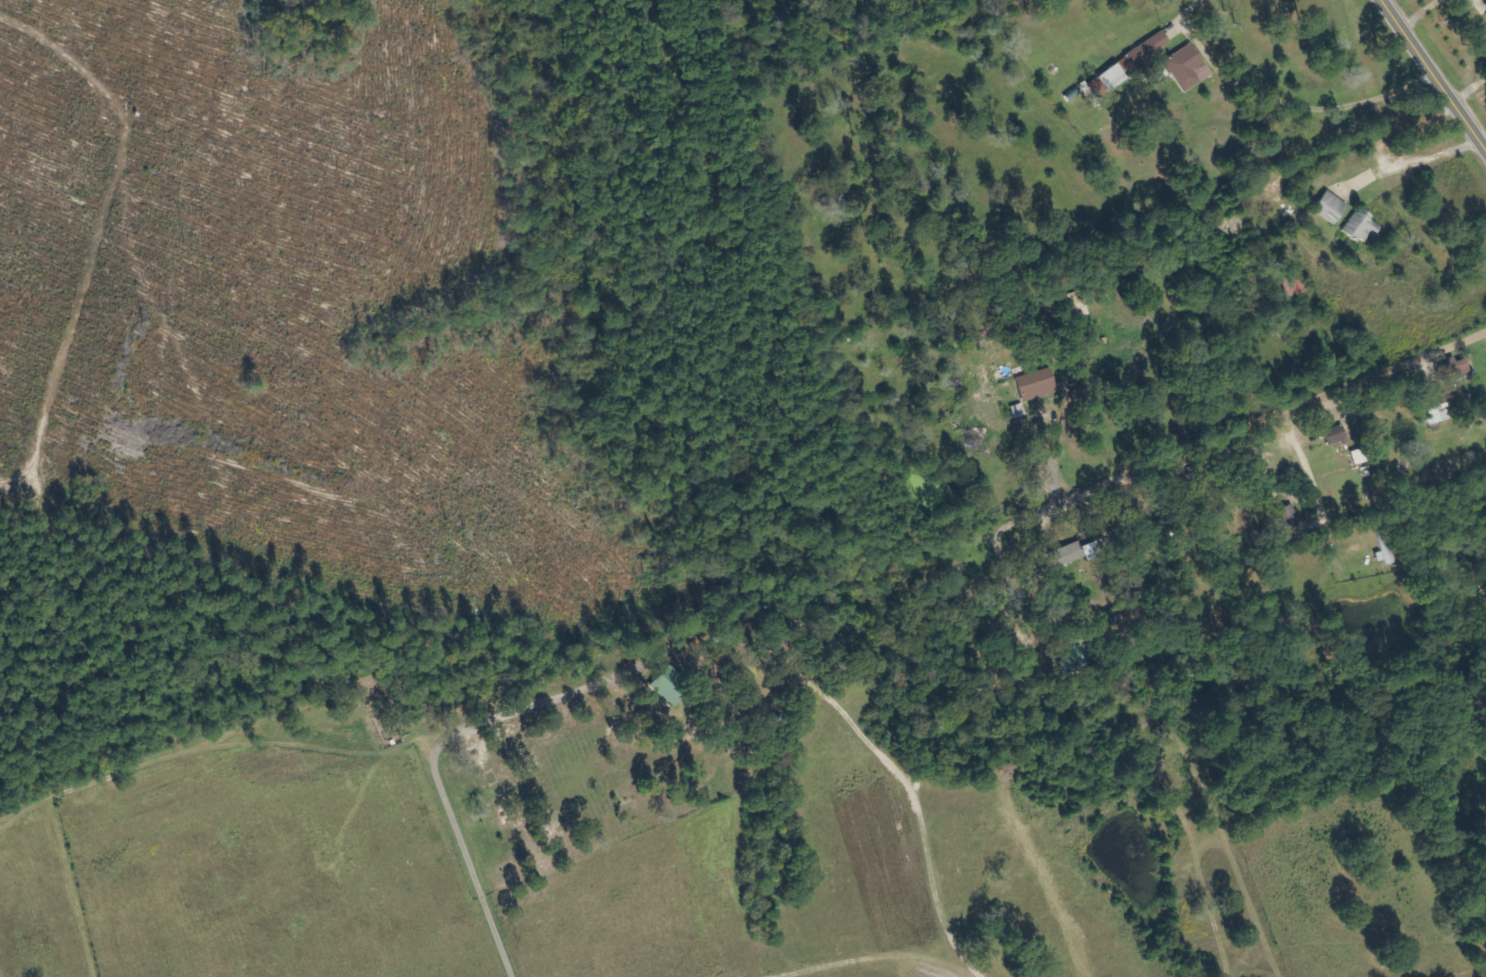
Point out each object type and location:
building: (1485, 5)
building: (1144, 52)
building: (1188, 68)
building: (1161, 72)
road: (1433, 76)
building: (1331, 208)
building: (1362, 227)
building: (1456, 369)
building: (1438, 411)
road: (1264, 420)
building: (1336, 435)
building: (1291, 521)
building: (1067, 554)
building: (670, 685)

